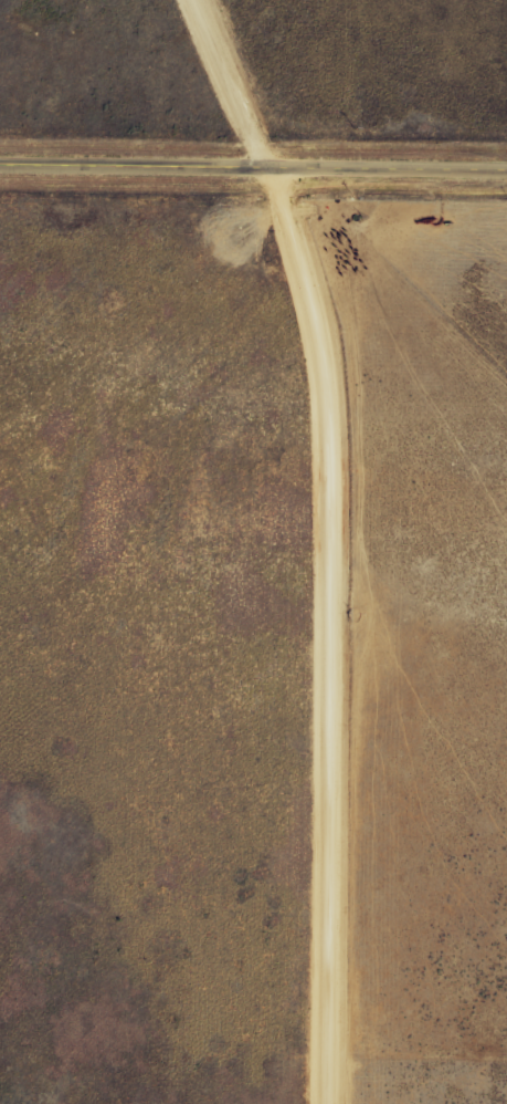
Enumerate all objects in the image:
road: (253, 168)
road: (365, 539)

